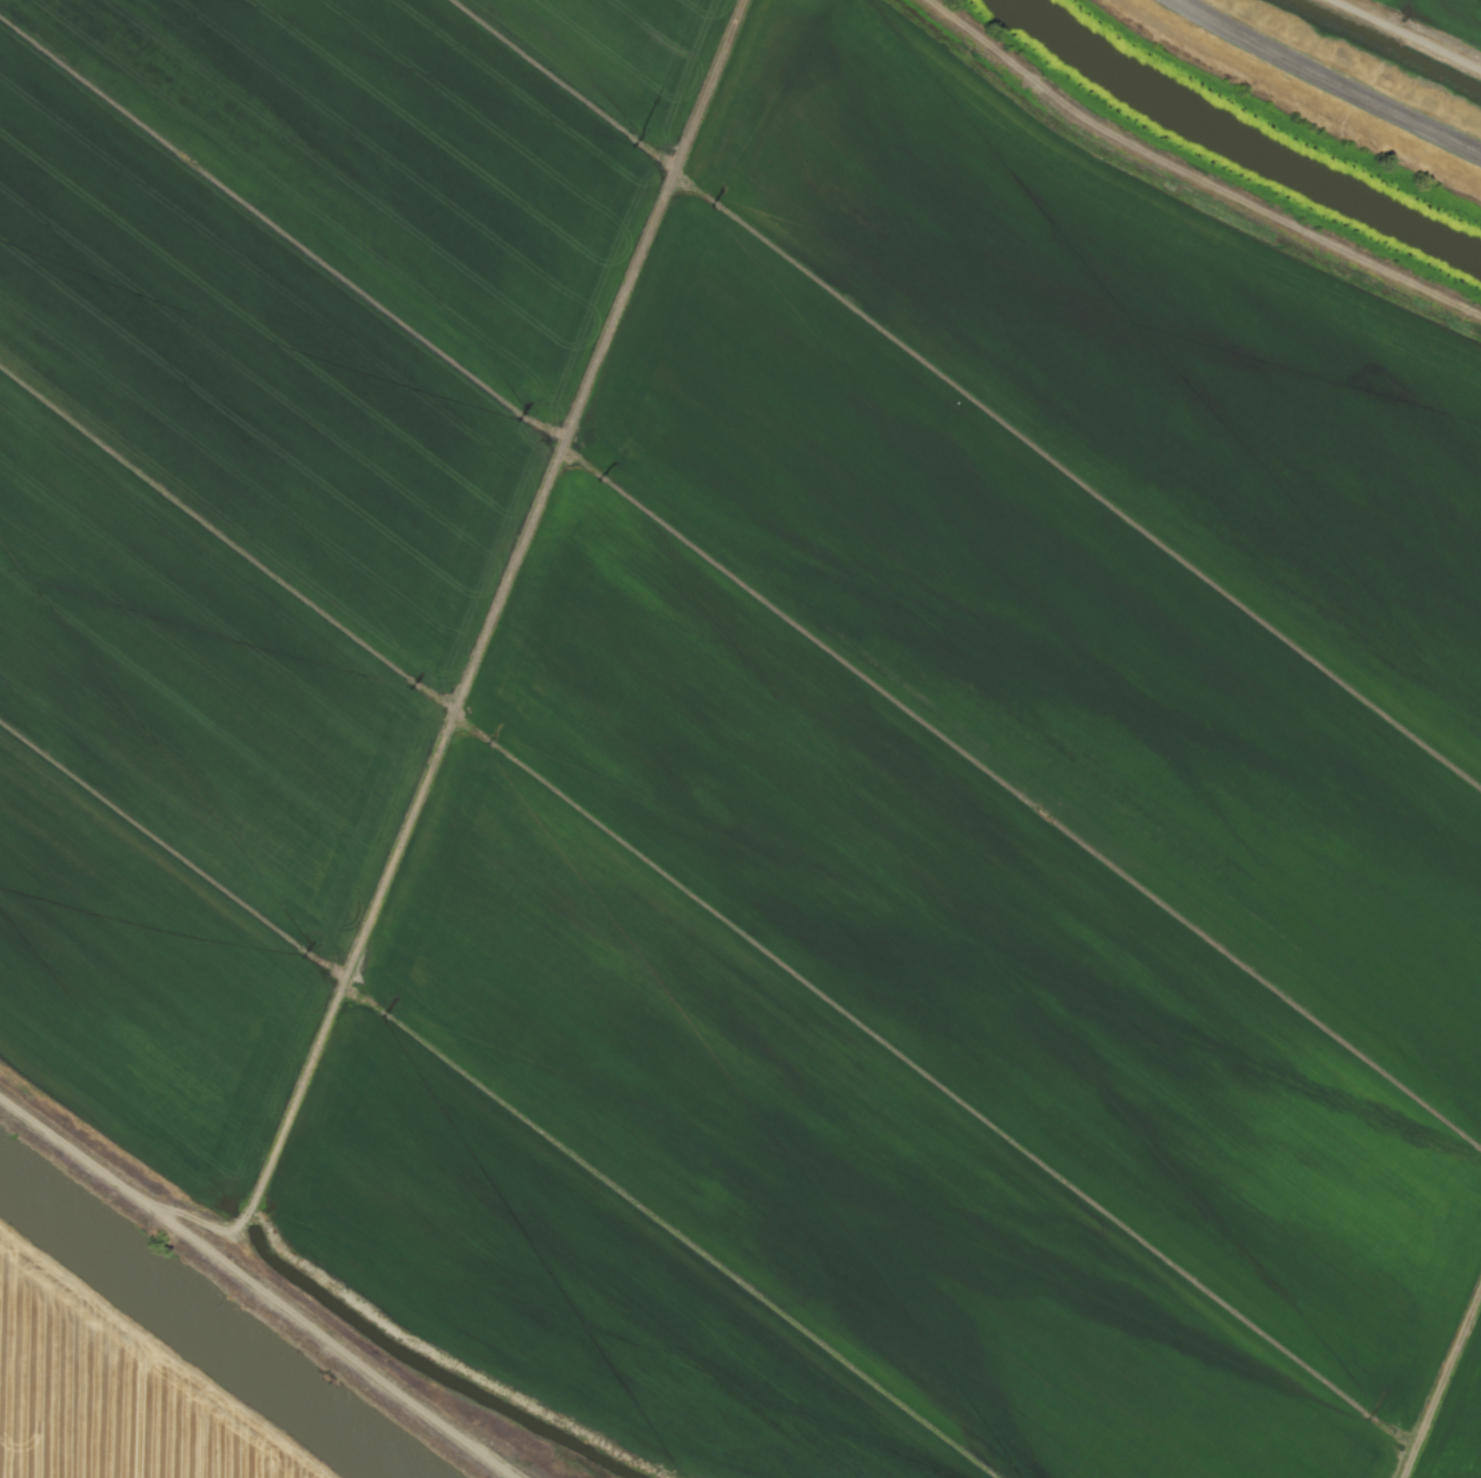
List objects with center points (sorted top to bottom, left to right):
crop: (1409, 34)
road: (1326, 80)

